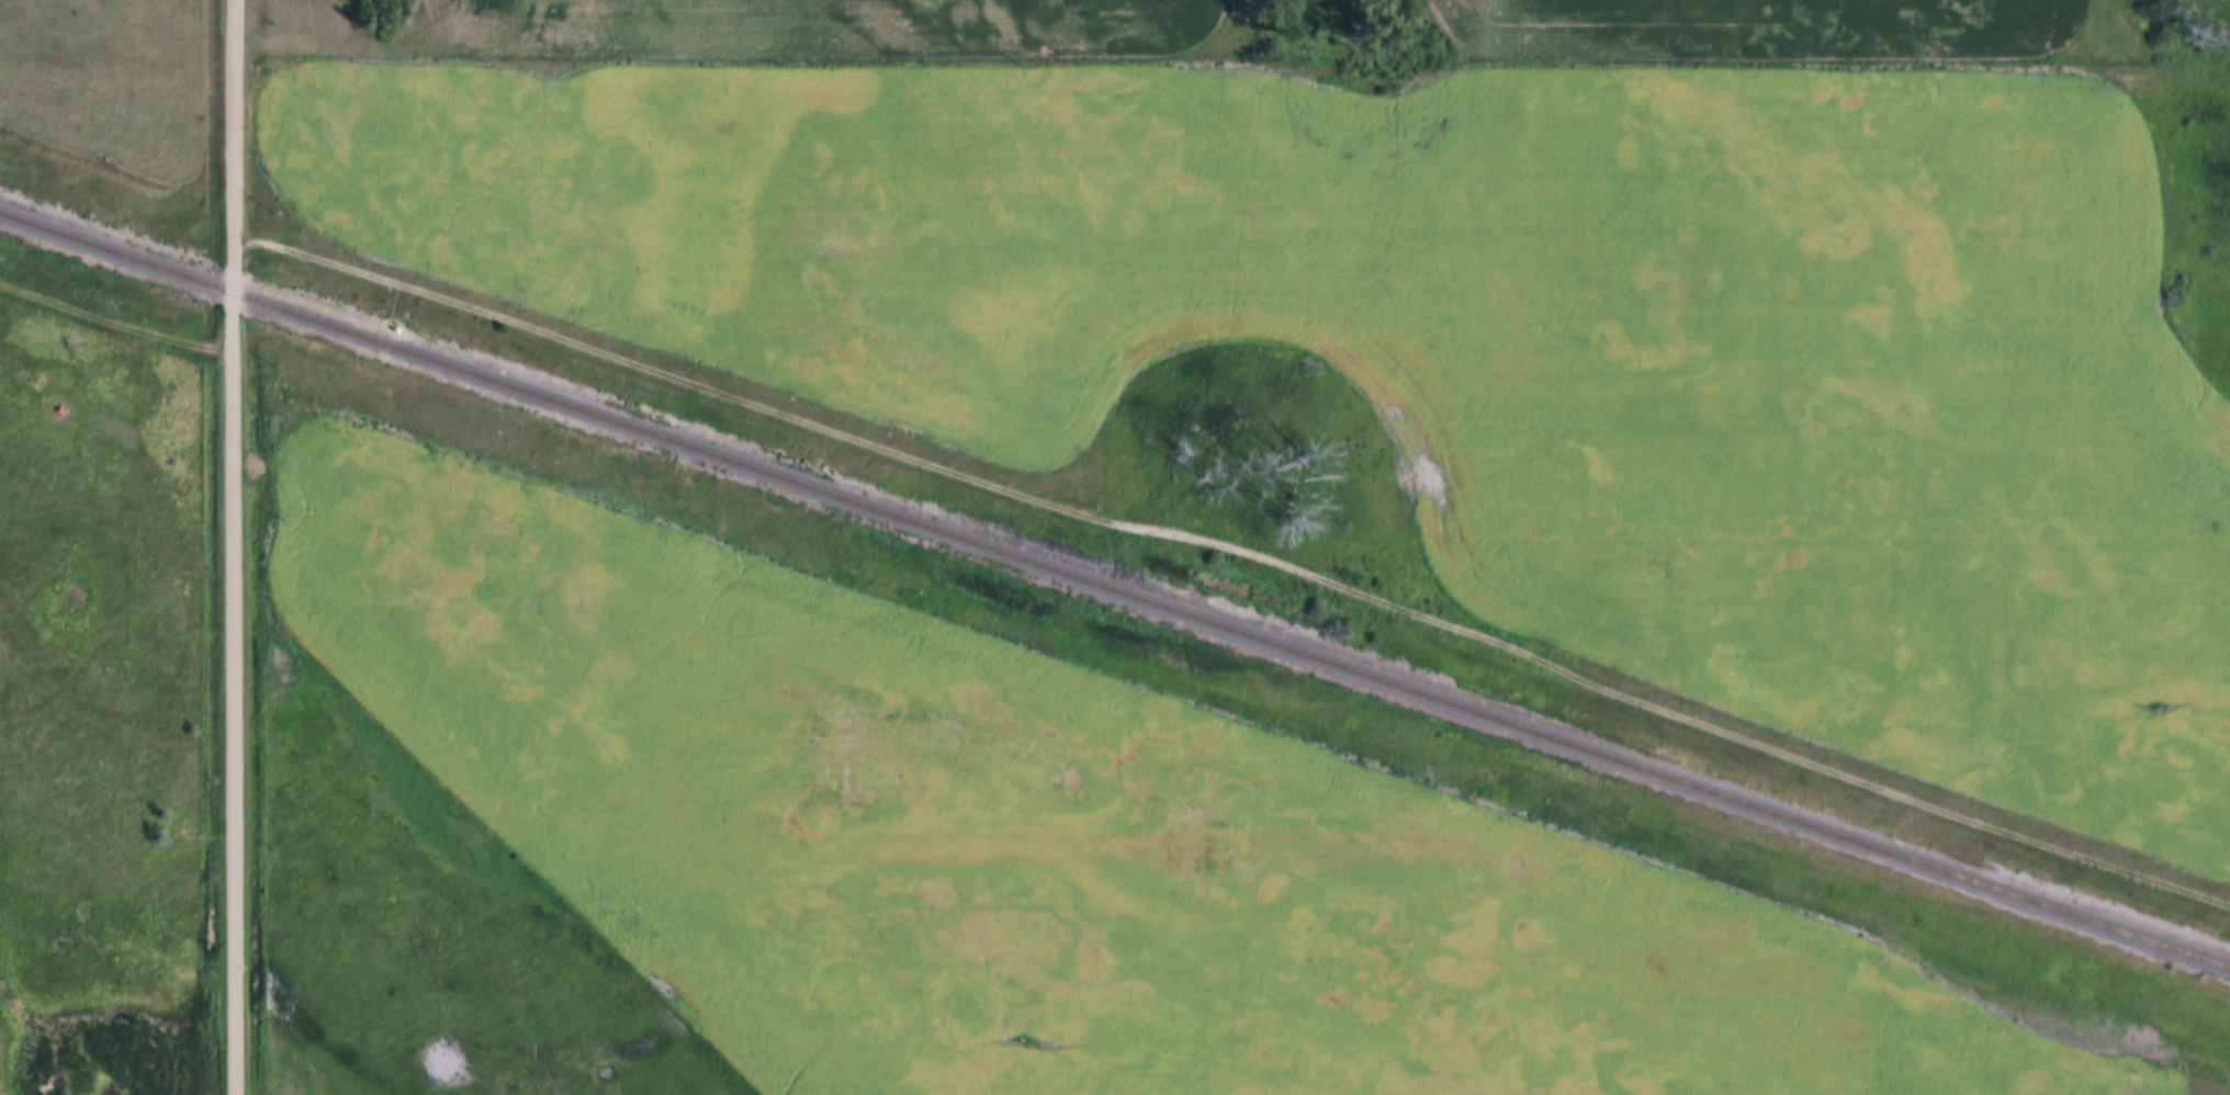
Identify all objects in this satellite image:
road: (232, 546)
railway: (1115, 590)

